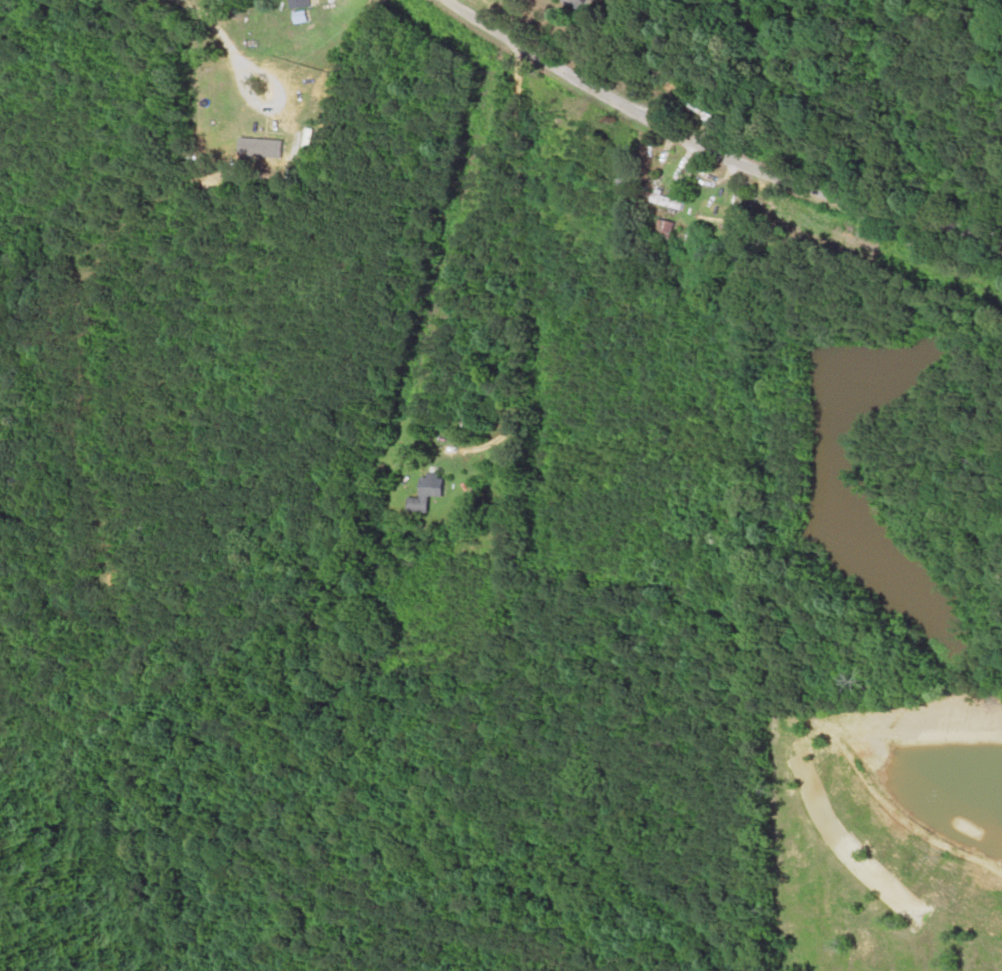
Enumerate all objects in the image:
building: (305, 3)
building: (585, 6)
road: (720, 146)
building: (674, 200)
road: (504, 244)
building: (432, 492)

